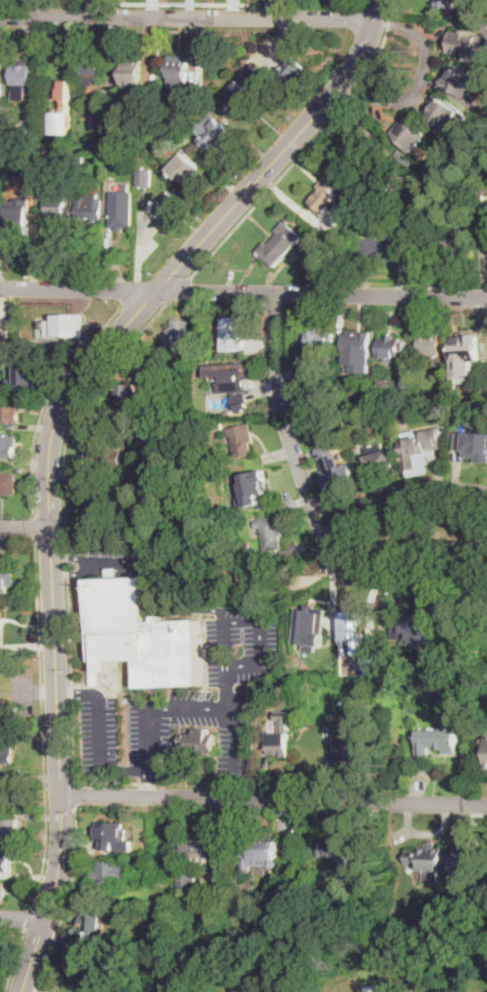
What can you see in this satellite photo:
road: (38, 1)
road: (163, 2)
building: (446, 4)
road: (188, 18)
building: (469, 44)
building: (92, 69)
building: (292, 69)
building: (132, 72)
building: (178, 72)
building: (23, 76)
road: (423, 79)
building: (461, 80)
building: (1, 83)
building: (65, 88)
building: (242, 90)
building: (432, 90)
building: (446, 111)
building: (167, 117)
building: (62, 123)
building: (98, 124)
building: (410, 133)
building: (214, 135)
building: (24, 137)
road: (306, 147)
building: (109, 153)
building: (401, 156)
building: (80, 157)
building: (330, 162)
building: (70, 164)
building: (25, 165)
building: (184, 168)
building: (427, 170)
building: (145, 178)
building: (379, 184)
building: (482, 192)
building: (325, 196)
building: (90, 207)
building: (167, 207)
building: (344, 208)
building: (59, 209)
building: (121, 210)
building: (472, 219)
building: (18, 223)
building: (457, 240)
building: (280, 244)
building: (486, 244)
building: (385, 250)
road: (189, 254)
road: (181, 289)
road: (243, 293)
building: (66, 326)
building: (4, 329)
building: (234, 334)
building: (177, 336)
building: (320, 341)
building: (430, 343)
building: (358, 349)
building: (391, 349)
building: (466, 350)
building: (28, 377)
building: (408, 379)
building: (235, 387)
building: (310, 393)
building: (128, 394)
road: (48, 398)
building: (11, 410)
building: (218, 424)
building: (437, 426)
building: (241, 440)
building: (470, 440)
building: (8, 445)
building: (425, 445)
building: (377, 457)
building: (103, 458)
building: (336, 470)
building: (153, 474)
building: (8, 483)
building: (254, 486)
building: (104, 501)
road: (312, 502)
road: (406, 505)
road: (65, 521)
road: (25, 526)
road: (35, 527)
building: (271, 532)
park: (434, 538)
road: (122, 562)
road: (92, 564)
building: (235, 577)
building: (7, 581)
road: (165, 607)
building: (5, 622)
building: (311, 626)
building: (414, 629)
building: (360, 634)
building: (463, 634)
building: (141, 635)
road: (223, 656)
building: (338, 656)
building: (301, 682)
building: (251, 696)
road: (234, 716)
road: (43, 724)
building: (281, 736)
building: (438, 739)
building: (200, 742)
building: (357, 743)
building: (7, 752)
road: (60, 762)
building: (7, 763)
road: (103, 768)
road: (114, 782)
road: (150, 783)
road: (75, 792)
building: (9, 795)
road: (274, 798)
building: (10, 826)
building: (113, 836)
building: (261, 853)
building: (345, 858)
building: (430, 860)
building: (6, 861)
building: (194, 862)
building: (466, 864)
building: (149, 869)
building: (111, 873)
building: (3, 892)
road: (66, 900)
road: (23, 916)
road: (31, 919)
building: (94, 925)
road: (15, 960)
building: (89, 990)

